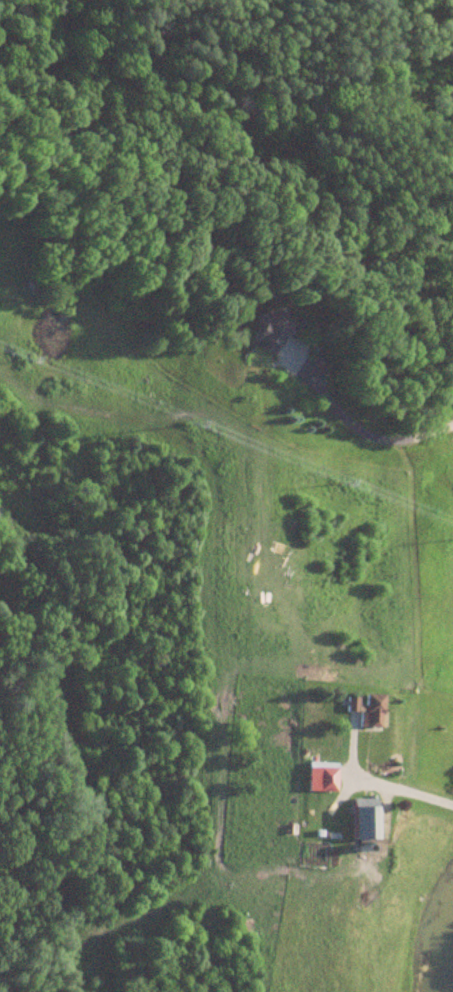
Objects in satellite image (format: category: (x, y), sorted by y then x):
building: (273, 331)
building: (368, 710)
building: (323, 776)
building: (368, 819)

